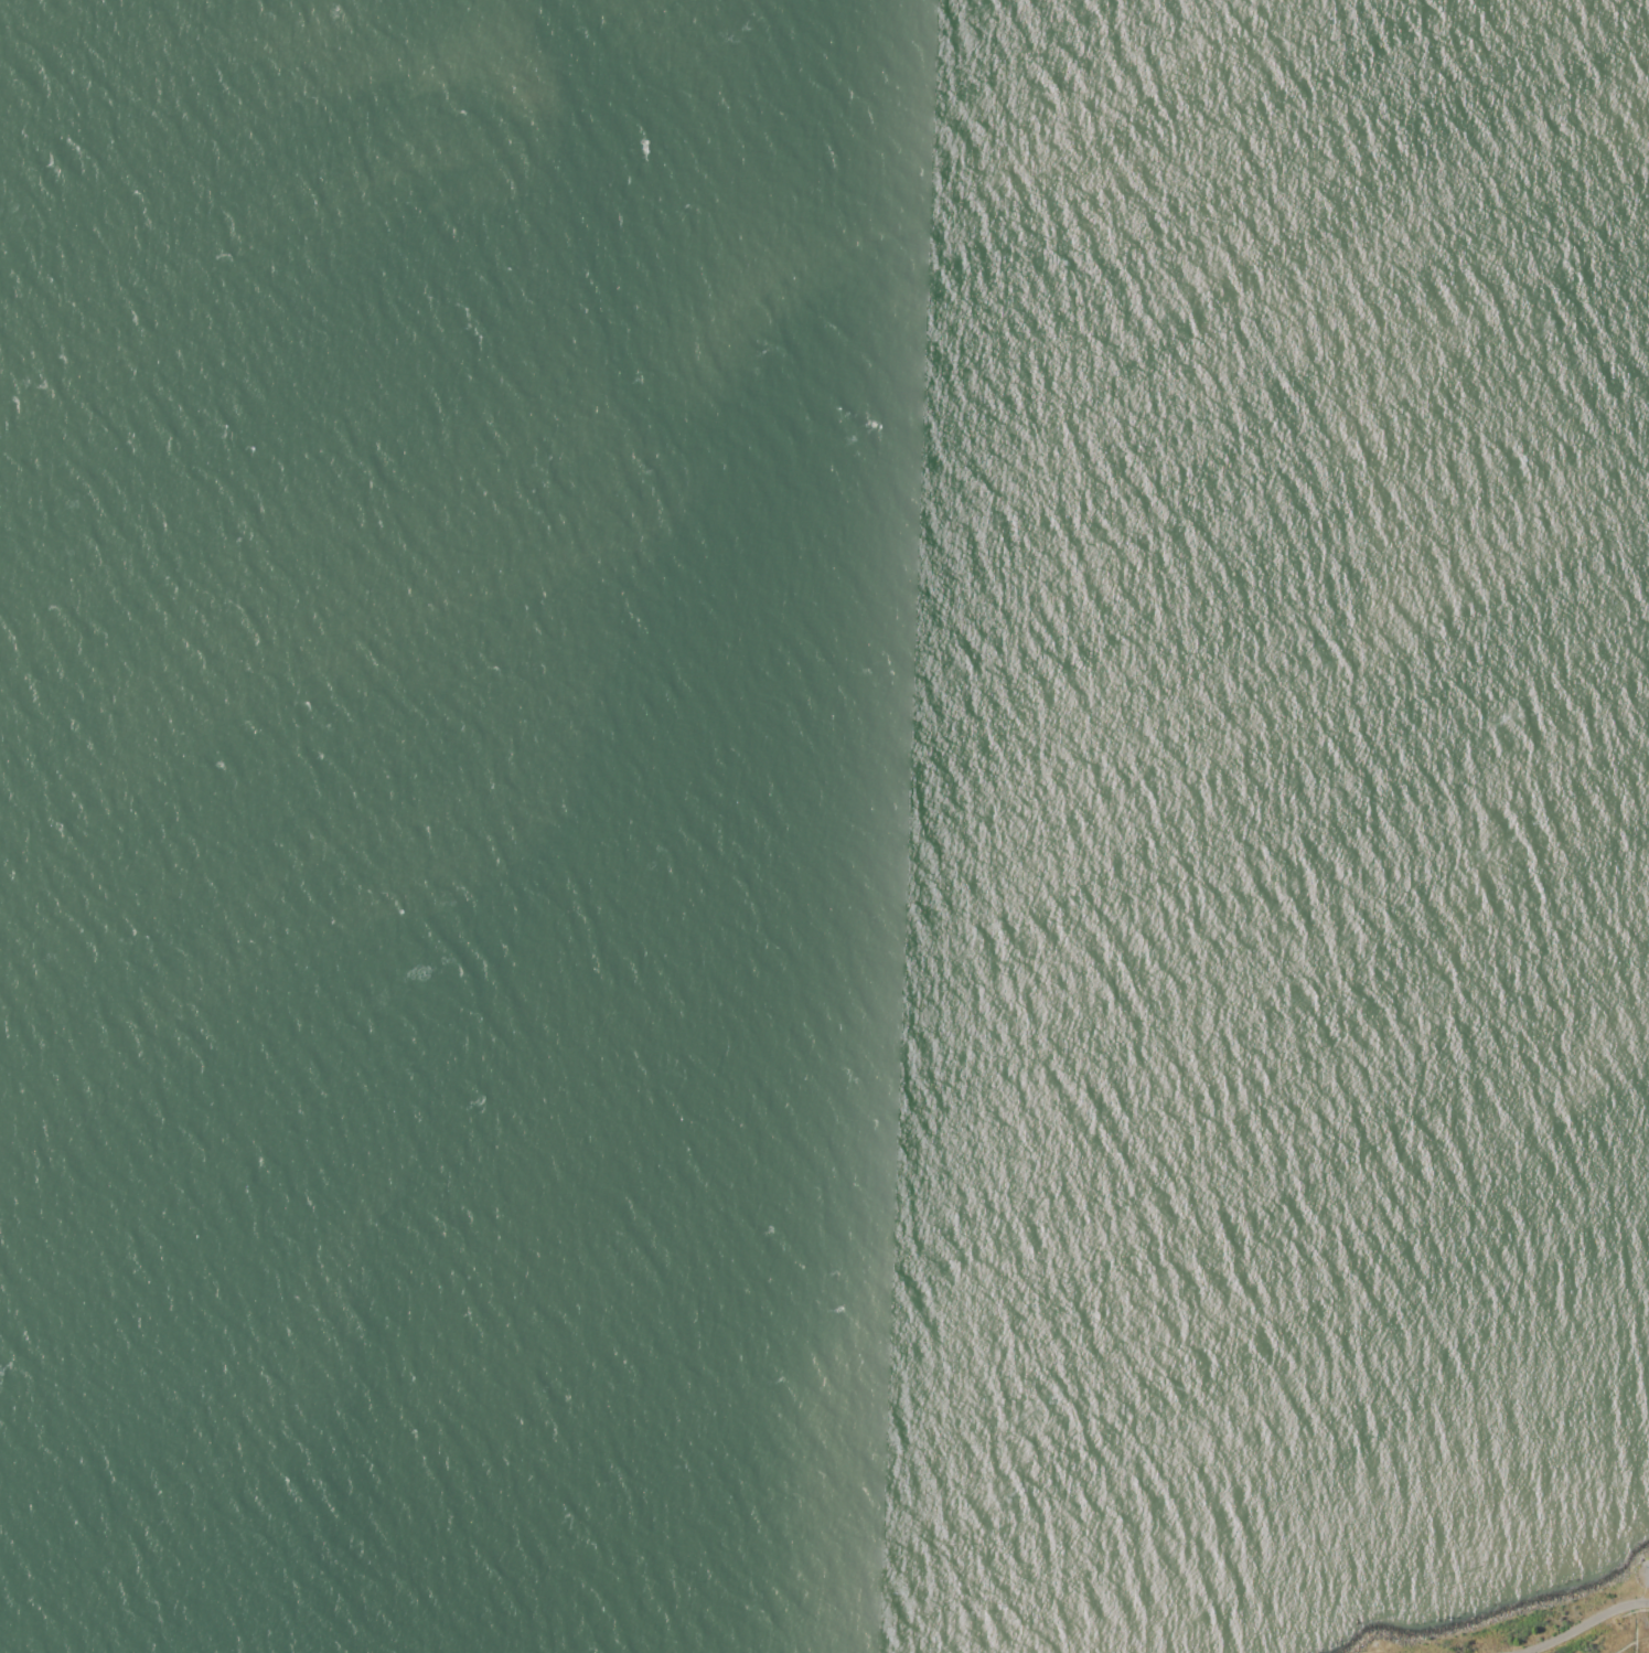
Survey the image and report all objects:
road: (1645, 1597)
park: (1544, 1623)
road: (1585, 1627)

